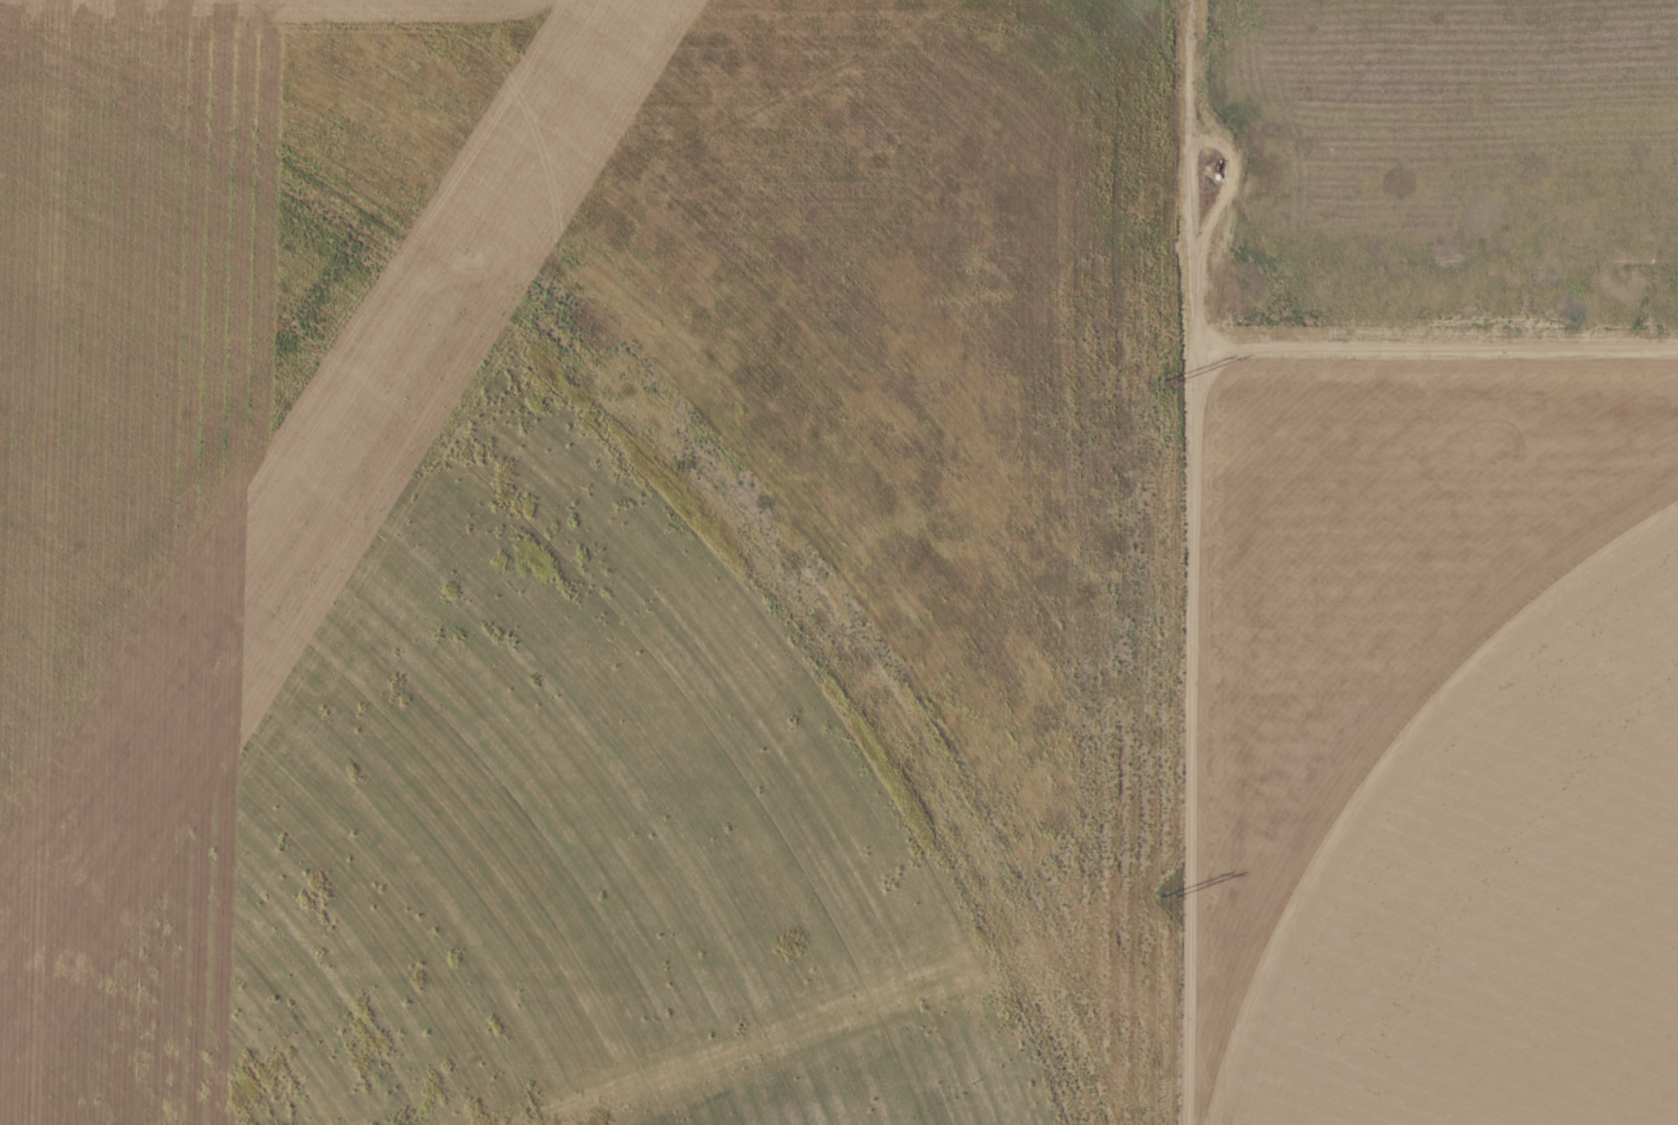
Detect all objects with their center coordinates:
power tower: (1168, 383)
power tower: (1165, 895)

